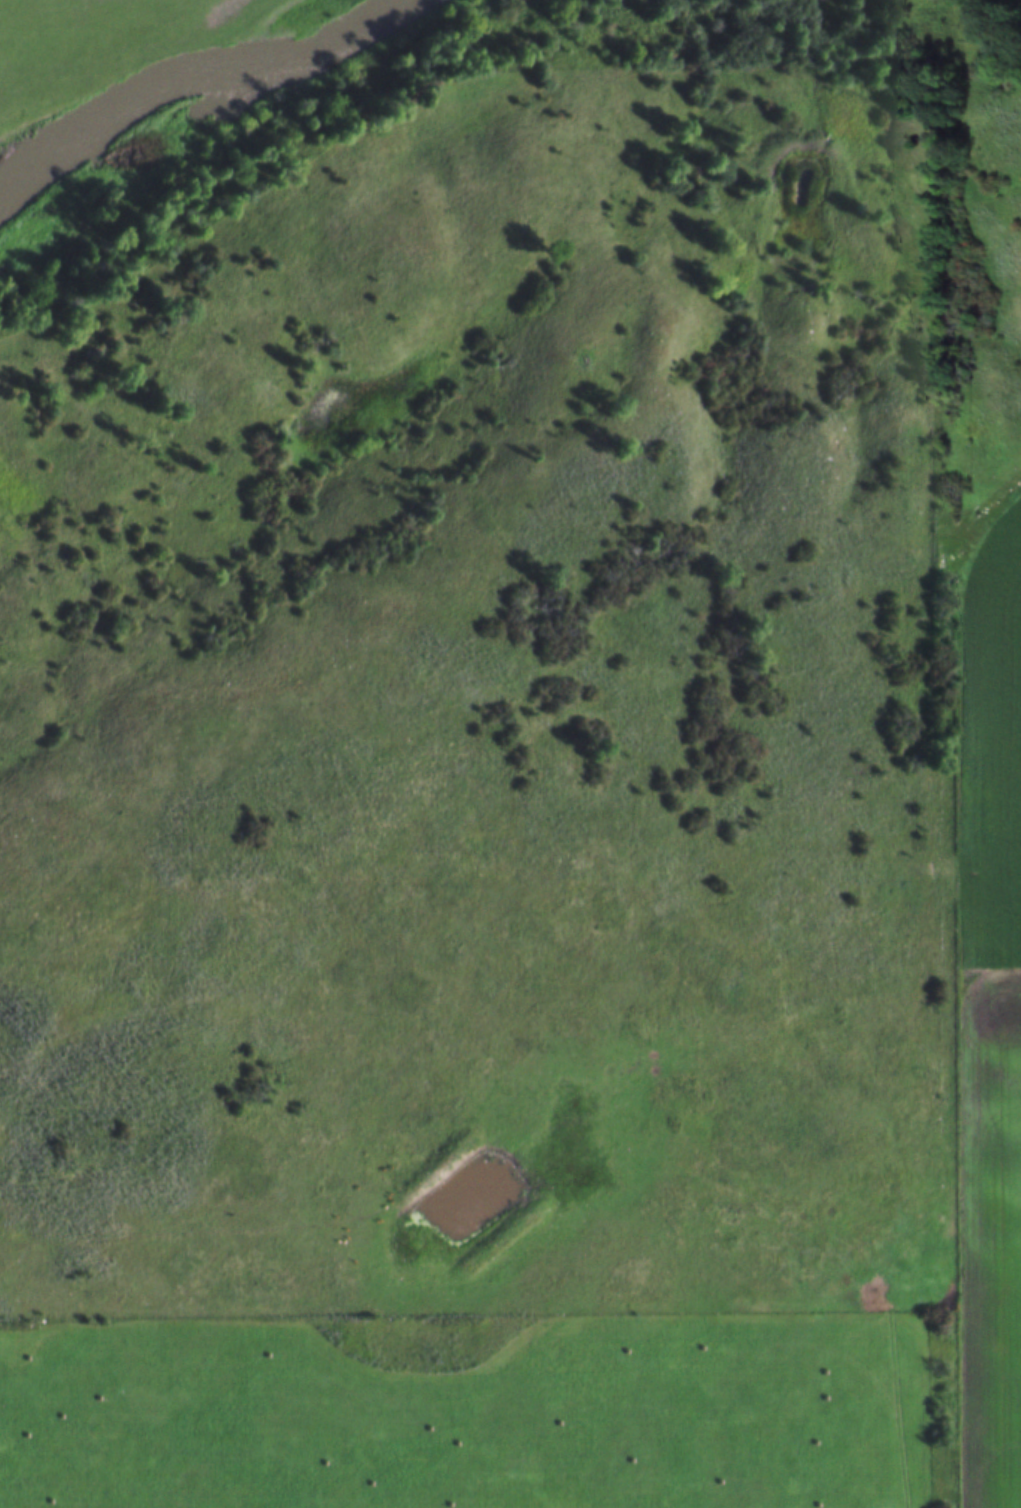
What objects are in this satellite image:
river: (189, 75)

